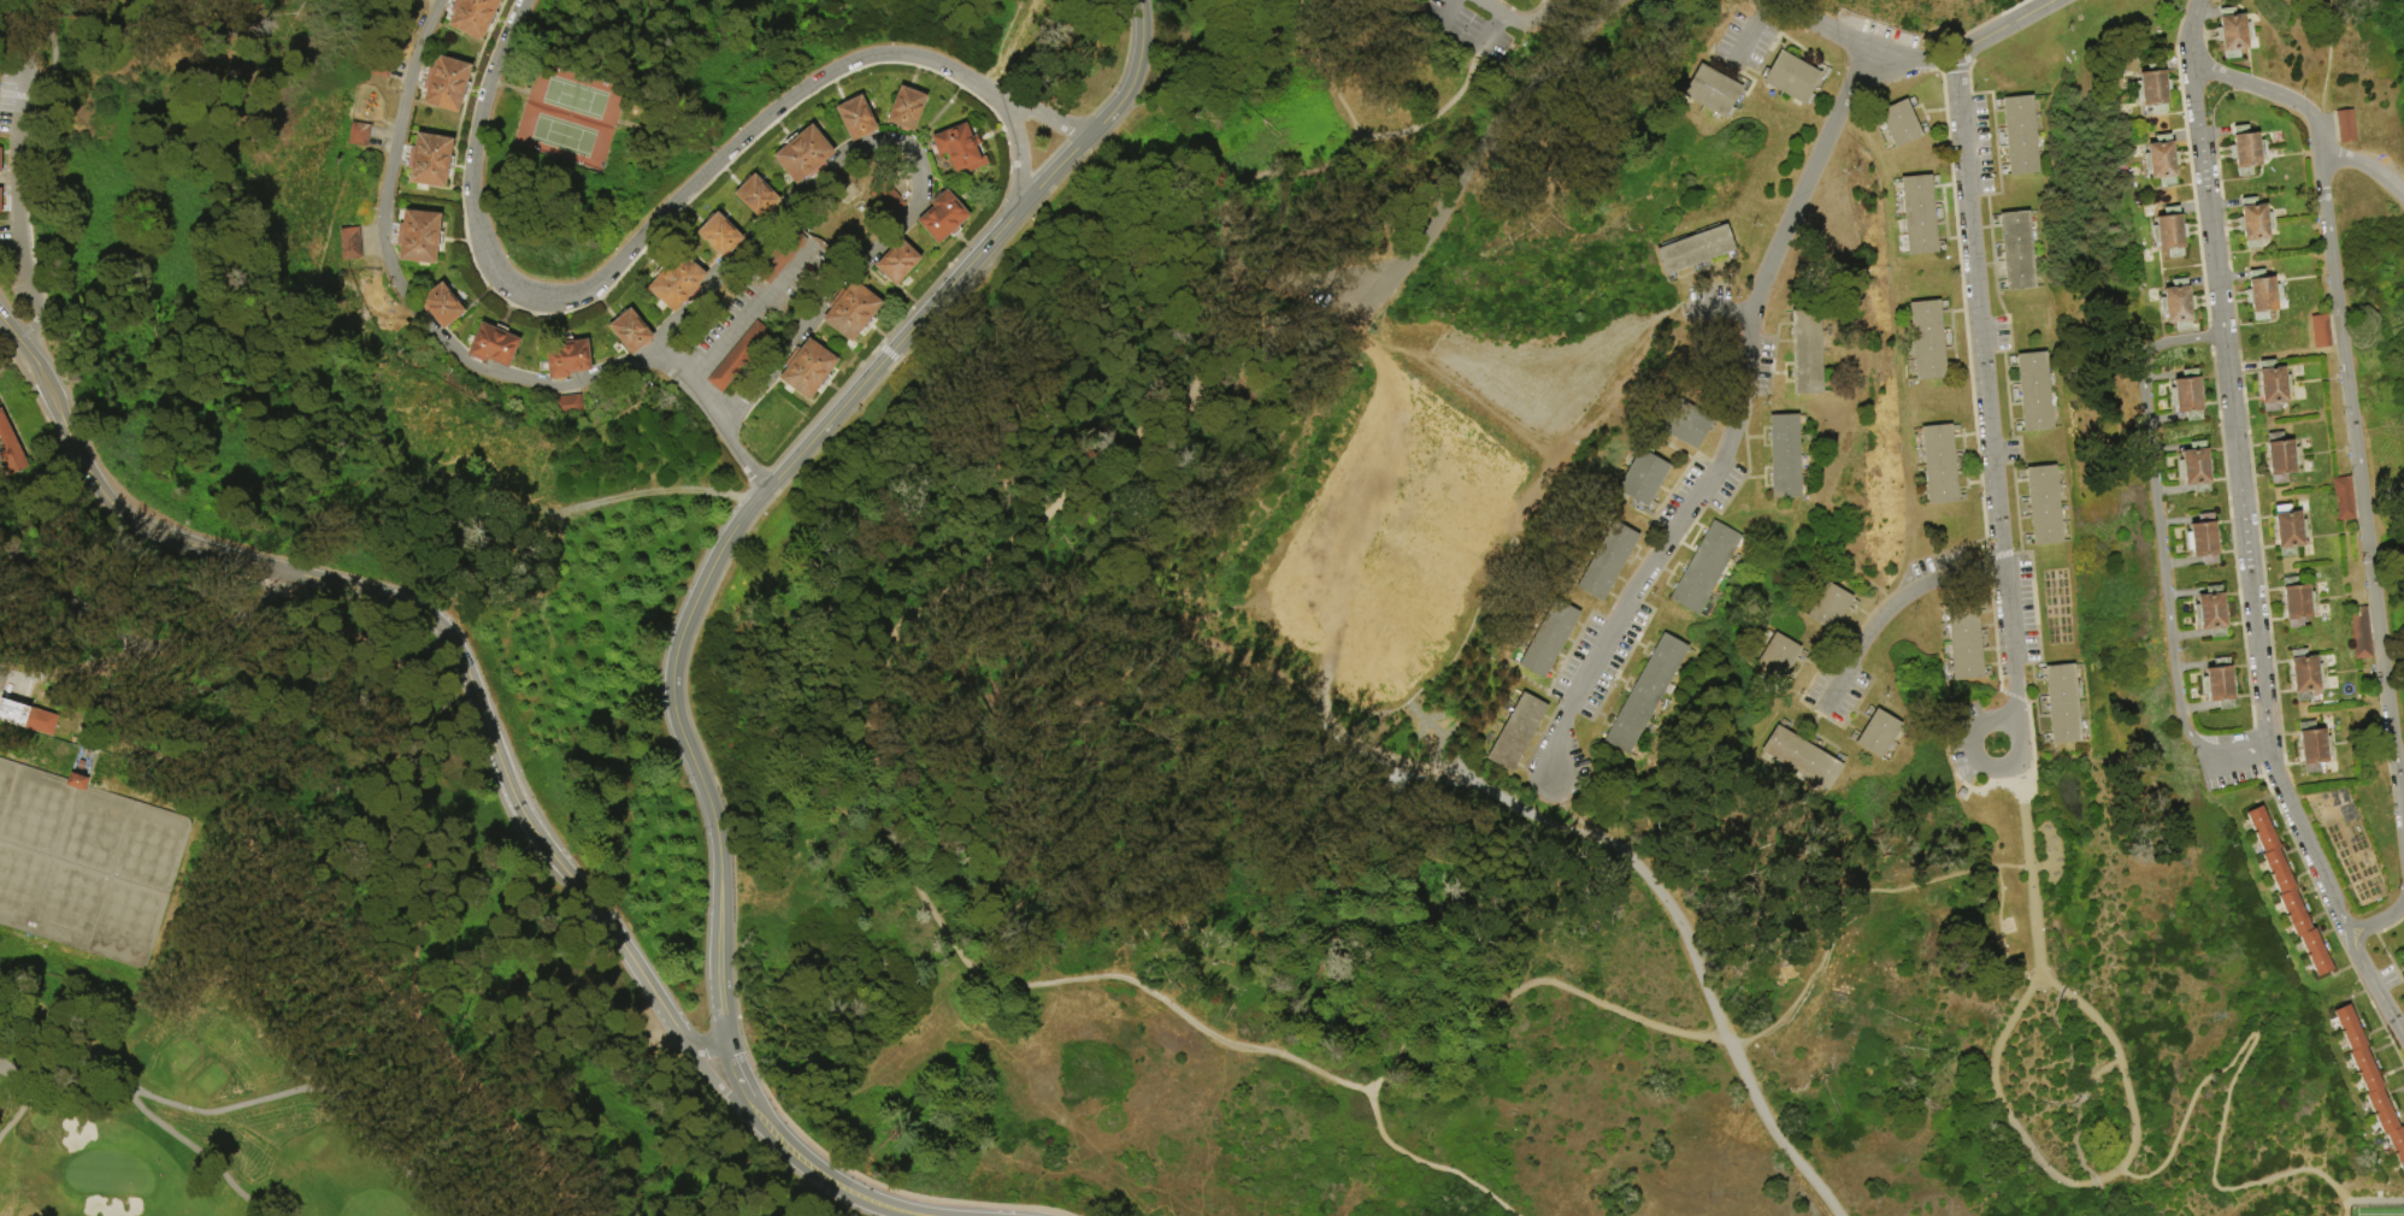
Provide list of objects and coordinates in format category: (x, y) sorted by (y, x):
building: (422, 0)
building: (1406, 2)
road: (1760, 10)
road: (1450, 11)
road: (1552, 16)
building: (473, 17)
road: (1508, 19)
road: (1822, 24)
road: (2005, 28)
road: (1489, 31)
road: (18, 33)
road: (2191, 33)
building: (2233, 34)
road: (1744, 42)
road: (1571, 48)
road: (1144, 55)
road: (1911, 58)
road: (2327, 60)
building: (382, 66)
road: (1231, 78)
building: (1795, 78)
road: (51, 81)
building: (446, 84)
road: (1332, 88)
building: (2156, 88)
building: (1715, 92)
road: (34, 98)
road: (19, 110)
building: (907, 110)
road: (2310, 113)
park: (572, 118)
building: (856, 118)
road: (1042, 122)
building: (1899, 124)
building: (2346, 128)
building: (360, 135)
building: (2020, 136)
road: (1339, 143)
building: (960, 149)
building: (2246, 152)
building: (803, 154)
road: (917, 160)
building: (2163, 160)
building: (1, 161)
building: (430, 161)
road: (17, 193)
building: (756, 197)
building: (888, 199)
building: (1, 200)
road: (1450, 200)
building: (1921, 216)
building: (943, 217)
road: (671, 219)
building: (2255, 224)
building: (2172, 232)
building: (720, 235)
building: (419, 237)
building: (348, 242)
building: (1697, 252)
building: (2016, 252)
building: (780, 256)
road: (25, 262)
building: (897, 264)
parking lot: (1374, 272)
building: (676, 282)
road: (401, 288)
building: (2263, 296)
road: (1310, 305)
building: (2180, 305)
building: (442, 306)
road: (753, 308)
road: (1713, 309)
road: (1713, 309)
building: (853, 312)
road: (1742, 312)
road: (36, 323)
road: (10, 329)
building: (631, 331)
building: (2322, 332)
building: (1931, 341)
building: (494, 344)
building: (1807, 353)
building: (740, 358)
building: (568, 359)
building: (808, 370)
road: (689, 373)
building: (2273, 386)
building: (2033, 392)
building: (2188, 396)
building: (565, 405)
road: (1737, 408)
road: (1986, 412)
road: (714, 417)
building: (1685, 423)
building: (11, 448)
building: (1785, 458)
building: (2281, 459)
building: (1942, 465)
building: (2197, 467)
building: (1643, 483)
road: (2361, 490)
building: (2345, 500)
road: (113, 503)
building: (2043, 506)
road: (2241, 508)
road: (748, 518)
building: (2290, 531)
building: (1598, 536)
building: (2204, 541)
road: (2161, 547)
building: (1608, 562)
building: (1580, 567)
building: (1705, 567)
road: (69, 592)
road: (1908, 595)
building: (2298, 603)
park: (1202, 608)
building: (1833, 609)
building: (2212, 613)
building: (1539, 614)
road: (220, 626)
building: (2361, 634)
building: (1549, 639)
building: (1964, 642)
building: (1516, 654)
road: (1303, 655)
parking lot: (1599, 659)
building: (1780, 660)
road: (90, 665)
road: (20, 674)
building: (2305, 675)
building: (2220, 685)
road: (1836, 691)
building: (1646, 693)
parking lot: (1838, 698)
building: (2061, 704)
building: (1508, 707)
building: (14, 713)
building: (43, 722)
building: (1876, 733)
building: (1516, 734)
building: (1490, 739)
road: (1972, 748)
building: (2314, 748)
building: (1804, 757)
road: (499, 765)
road: (867, 765)
road: (397, 767)
building: (87, 771)
building: (30, 803)
road: (257, 808)
road: (2038, 866)
road: (2028, 870)
building: (2290, 893)
road: (2379, 921)
road: (1999, 931)
building: (2403, 958)
road: (1814, 966)
road: (1703, 978)
road: (1531, 981)
road: (2376, 982)
road: (546, 1003)
road: (2090, 1015)
road: (682, 1035)
road: (708, 1049)
road: (2097, 1074)
road: (2231, 1080)
building: (2370, 1080)
road: (314, 1091)
road: (752, 1096)
road: (731, 1100)
road: (20, 1106)
park: (165, 1112)
road: (145, 1114)
road: (499, 1115)
road: (2033, 1155)
road: (805, 1159)
road: (1427, 1165)
park: (108, 1171)
road: (2373, 1202)
road: (883, 1203)
park: (2375, 1211)

